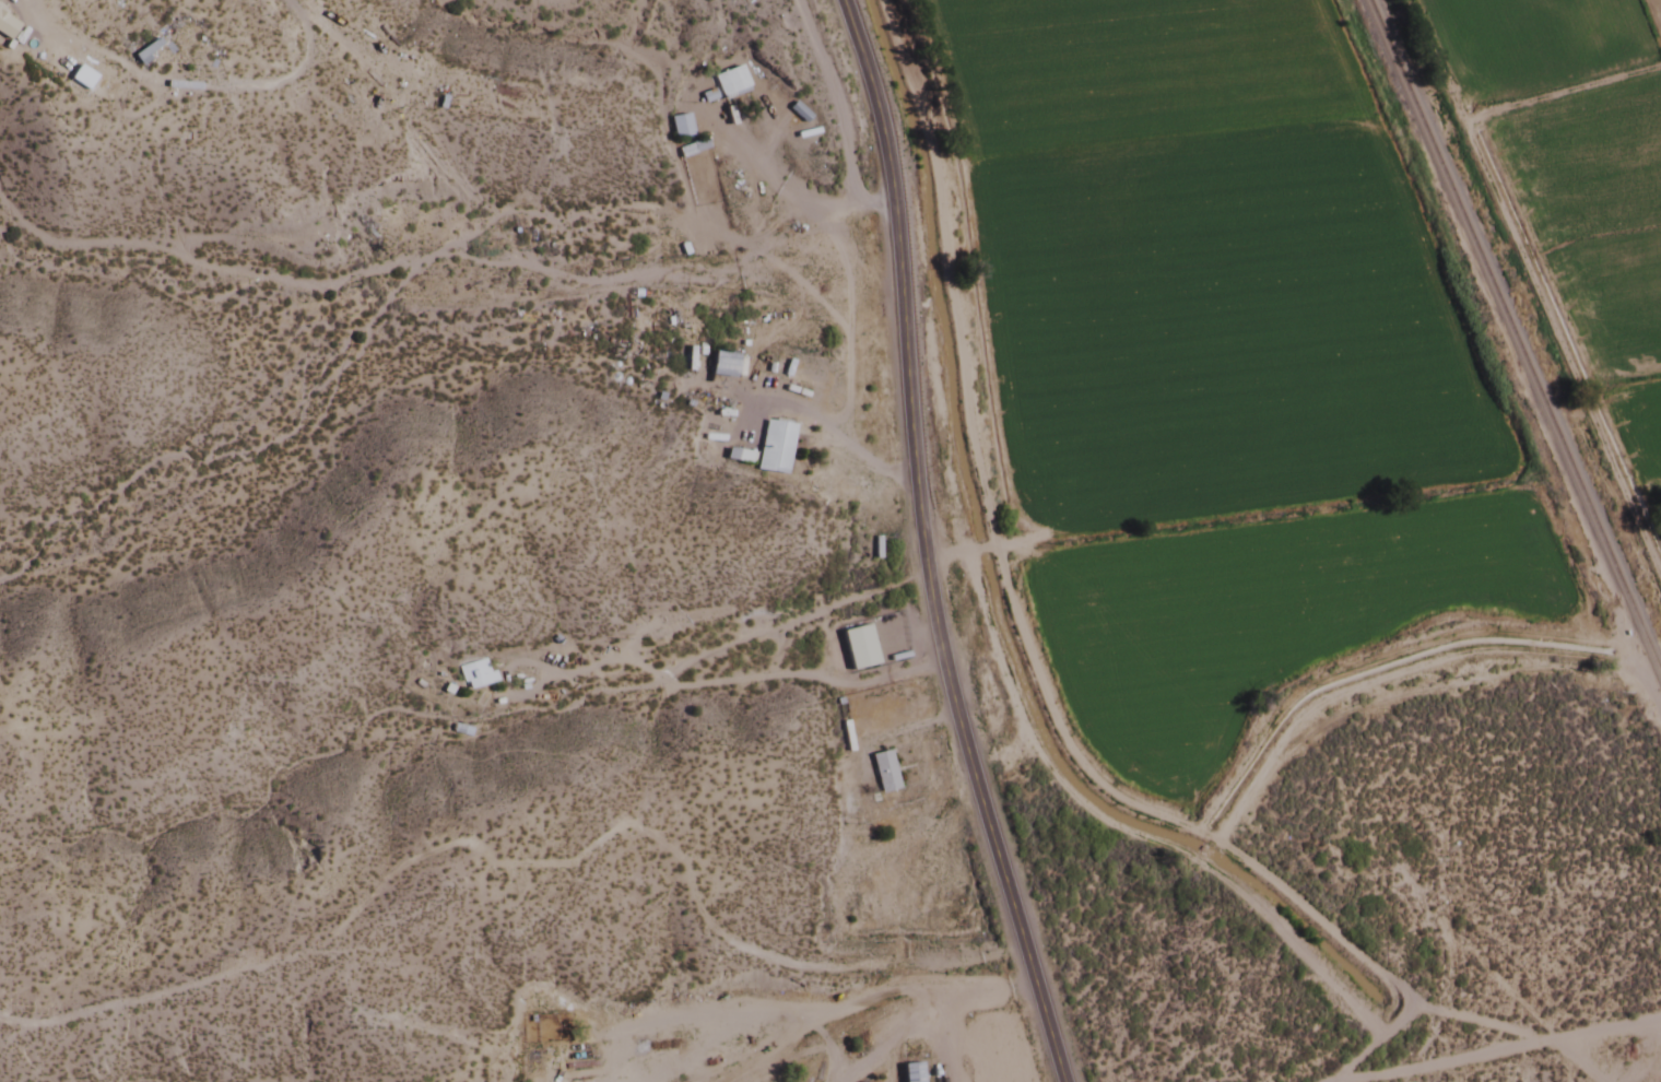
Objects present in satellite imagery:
building: (144, 52)
building: (730, 83)
road: (232, 86)
road: (833, 98)
building: (679, 127)
building: (691, 149)
road: (820, 213)
road: (940, 268)
railway: (1512, 341)
building: (721, 365)
building: (774, 447)
building: (739, 456)
road: (912, 546)
road: (952, 554)
building: (857, 647)
building: (475, 674)
building: (882, 771)
road: (1111, 836)
road: (1202, 839)
building: (923, 887)
building: (859, 908)
road: (1364, 1043)
road: (1494, 1051)
building: (910, 1072)

